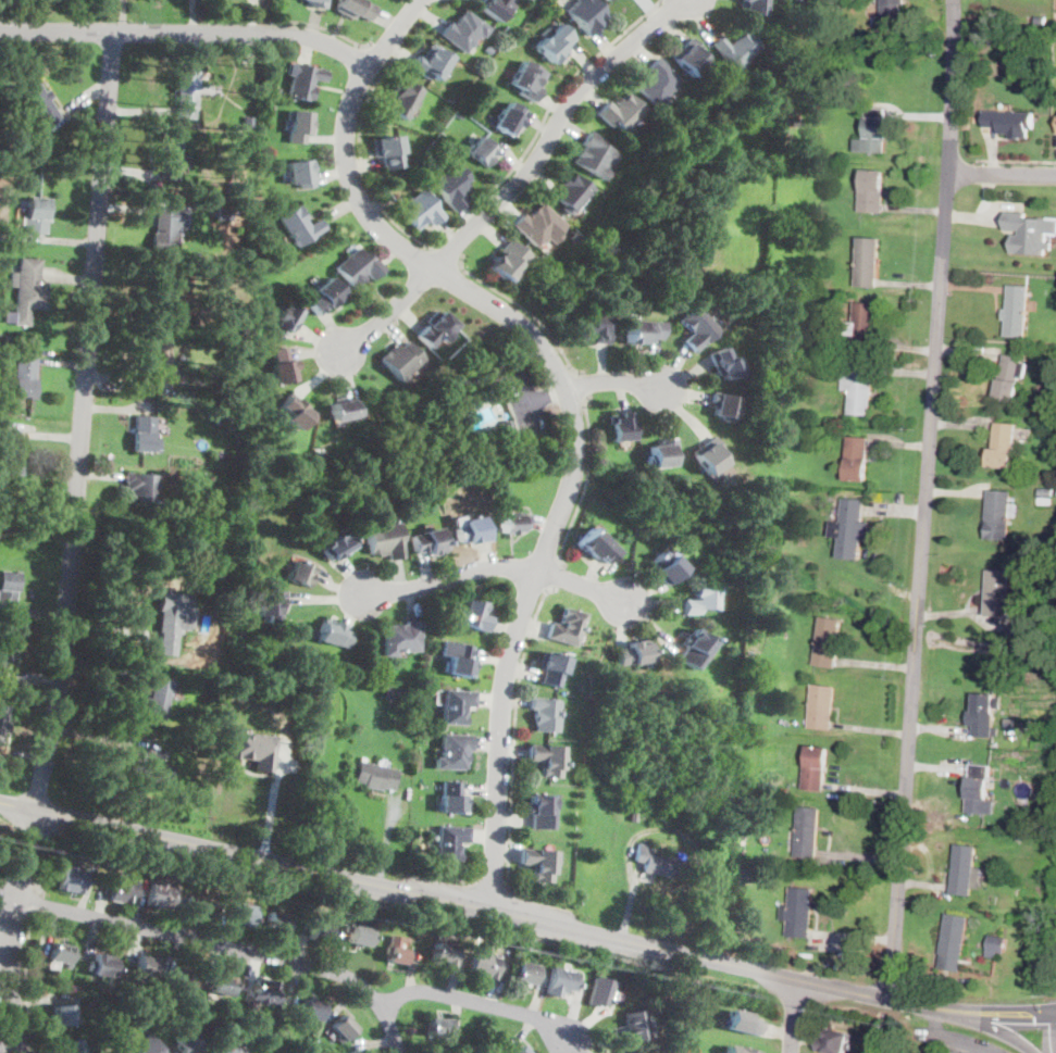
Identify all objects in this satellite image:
building: (607, 0)
building: (796, 0)
building: (868, 1)
building: (318, 3)
building: (754, 7)
building: (495, 8)
building: (355, 9)
building: (892, 12)
building: (585, 15)
building: (1040, 18)
road: (324, 28)
road: (187, 32)
building: (463, 32)
building: (555, 43)
building: (488, 48)
building: (736, 49)
road: (383, 50)
building: (689, 57)
building: (431, 63)
building: (303, 80)
building: (527, 80)
building: (657, 84)
building: (277, 90)
building: (186, 93)
building: (403, 98)
building: (39, 104)
building: (473, 109)
building: (459, 112)
building: (621, 112)
building: (232, 118)
building: (509, 118)
building: (252, 122)
building: (1011, 123)
building: (299, 125)
road: (552, 130)
building: (873, 131)
building: (388, 151)
building: (482, 151)
building: (26, 152)
building: (165, 155)
building: (595, 155)
road: (1016, 161)
building: (300, 173)
road: (1002, 174)
building: (233, 180)
building: (451, 186)
building: (871, 190)
building: (572, 193)
building: (420, 210)
building: (223, 211)
building: (36, 214)
road: (468, 214)
building: (539, 225)
building: (298, 226)
building: (162, 231)
building: (1029, 233)
building: (575, 238)
road: (447, 254)
building: (508, 261)
building: (868, 262)
building: (358, 266)
building: (27, 289)
building: (162, 294)
building: (325, 296)
road: (524, 309)
building: (1016, 311)
road: (388, 314)
building: (286, 318)
building: (779, 322)
building: (862, 326)
building: (596, 328)
building: (697, 328)
building: (435, 329)
building: (243, 330)
building: (643, 331)
building: (400, 360)
building: (158, 363)
building: (235, 364)
building: (725, 364)
building: (282, 366)
building: (23, 376)
building: (1010, 376)
building: (781, 379)
road: (617, 381)
road: (582, 387)
building: (858, 388)
road: (530, 394)
road: (549, 394)
road: (570, 401)
building: (724, 405)
building: (295, 409)
building: (345, 409)
building: (221, 418)
road: (84, 421)
building: (620, 427)
building: (506, 428)
building: (1052, 434)
building: (145, 435)
building: (784, 435)
building: (1003, 446)
building: (10, 452)
building: (662, 453)
building: (710, 455)
building: (316, 457)
building: (856, 457)
road: (584, 481)
building: (140, 486)
building: (1045, 491)
road: (924, 500)
building: (1044, 501)
building: (999, 514)
building: (512, 524)
building: (850, 529)
building: (472, 530)
building: (384, 540)
building: (427, 542)
building: (596, 546)
building: (337, 547)
building: (664, 567)
building: (300, 573)
road: (554, 575)
road: (449, 576)
road: (582, 586)
building: (8, 588)
building: (698, 600)
building: (1002, 600)
building: (218, 601)
building: (271, 606)
building: (473, 615)
building: (172, 619)
building: (567, 627)
building: (334, 635)
building: (401, 638)
building: (828, 642)
building: (5, 647)
building: (694, 649)
building: (633, 653)
building: (748, 660)
building: (460, 661)
building: (551, 668)
building: (202, 677)
building: (393, 692)
building: (413, 697)
building: (157, 699)
building: (456, 705)
building: (822, 706)
building: (545, 713)
building: (984, 715)
building: (2, 716)
building: (252, 748)
building: (204, 750)
building: (454, 751)
building: (547, 759)
road: (513, 763)
building: (146, 767)
building: (816, 767)
building: (375, 776)
building: (980, 790)
building: (1035, 795)
building: (451, 798)
building: (539, 812)
building: (1033, 820)
building: (735, 832)
building: (807, 832)
building: (671, 836)
building: (1022, 838)
building: (451, 842)
road: (42, 861)
building: (539, 863)
building: (658, 863)
building: (965, 869)
building: (741, 873)
building: (72, 880)
building: (122, 890)
road: (9, 895)
building: (159, 897)
road: (38, 904)
road: (470, 904)
building: (199, 906)
building: (798, 913)
building: (241, 914)
building: (275, 922)
road: (10, 929)
building: (321, 932)
building: (359, 936)
building: (953, 941)
road: (229, 947)
building: (992, 948)
building: (396, 950)
building: (61, 953)
building: (443, 953)
building: (485, 964)
building: (101, 966)
building: (145, 966)
building: (525, 974)
building: (183, 976)
road: (27, 981)
building: (561, 981)
building: (220, 983)
building: (264, 990)
building: (602, 991)
road: (1055, 992)
building: (655, 993)
road: (480, 1003)
building: (311, 1010)
road: (969, 1011)
road: (1028, 1014)
road: (1041, 1014)
building: (63, 1015)
road: (792, 1015)
building: (743, 1023)
building: (635, 1025)
building: (437, 1026)
road: (987, 1026)
building: (344, 1029)
road: (1047, 1033)
road: (954, 1038)
building: (835, 1042)
road: (7, 1043)
building: (186, 1043)
building: (145, 1045)
building: (72, 1046)
building: (229, 1049)
building: (520, 1050)
building: (738, 1050)
building: (353, 1051)

